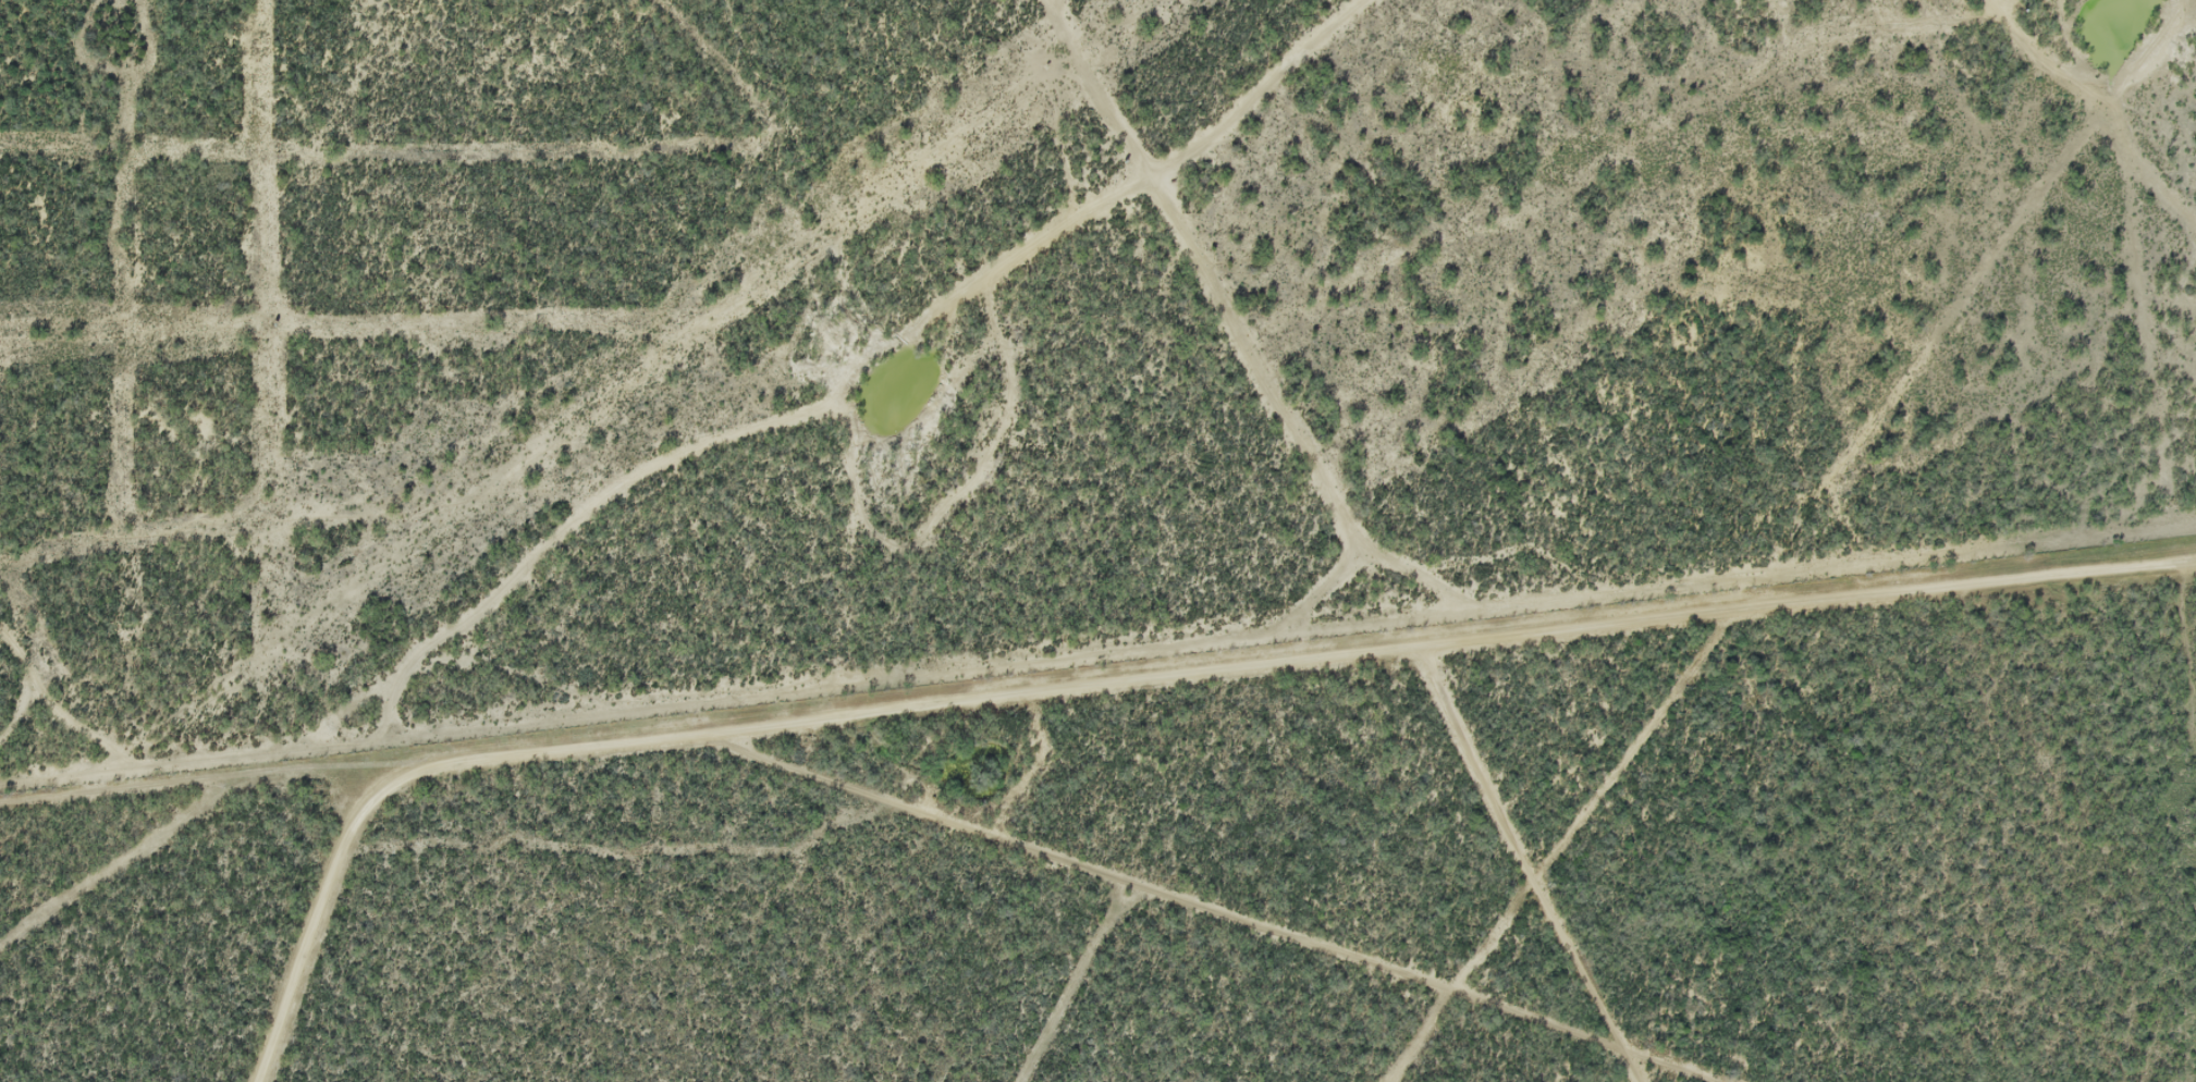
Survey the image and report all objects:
road: (1128, 679)

